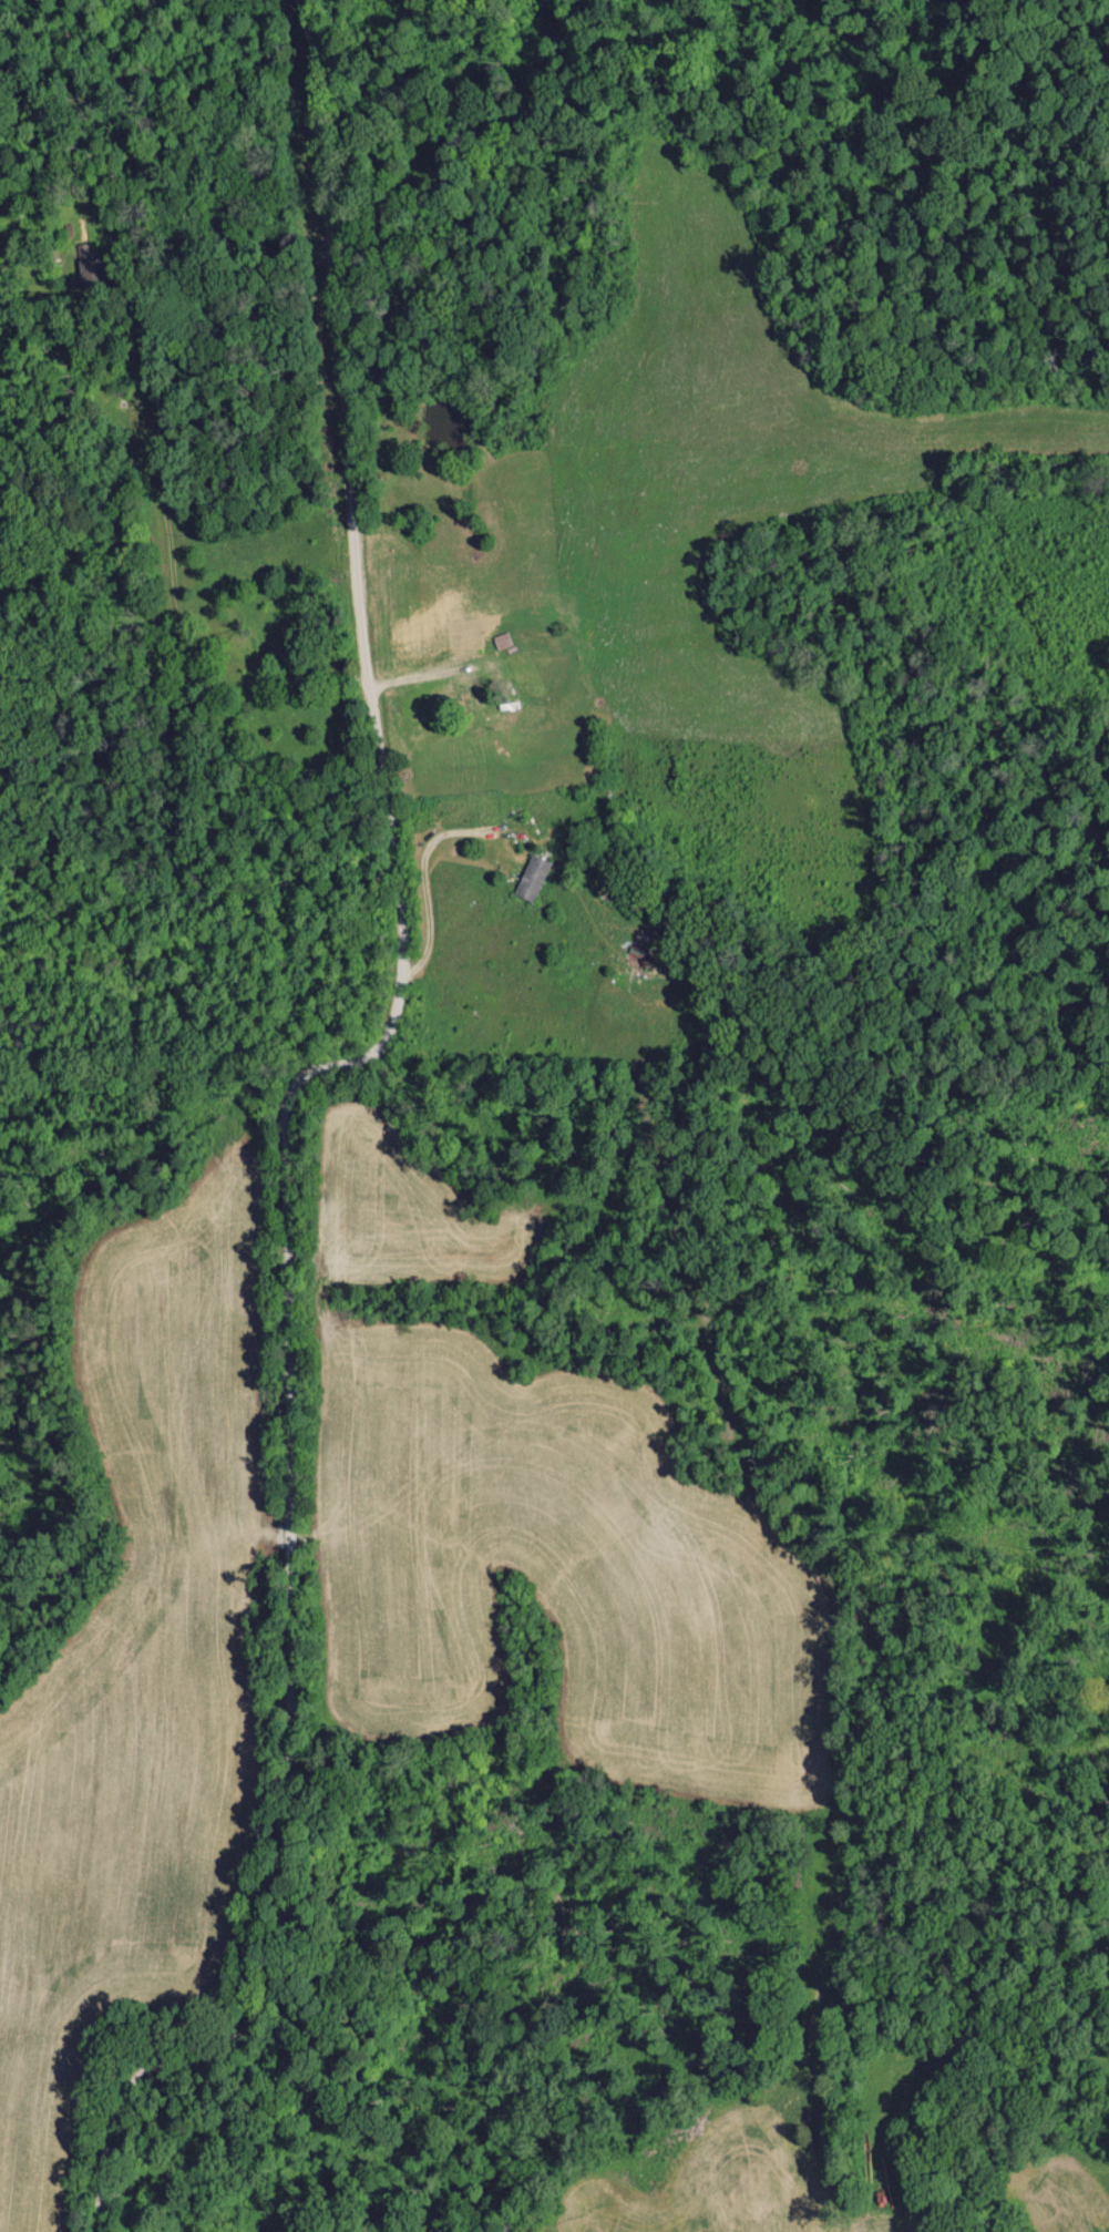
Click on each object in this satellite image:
building: (93, 269)
building: (465, 698)
building: (530, 877)
road: (276, 1127)

